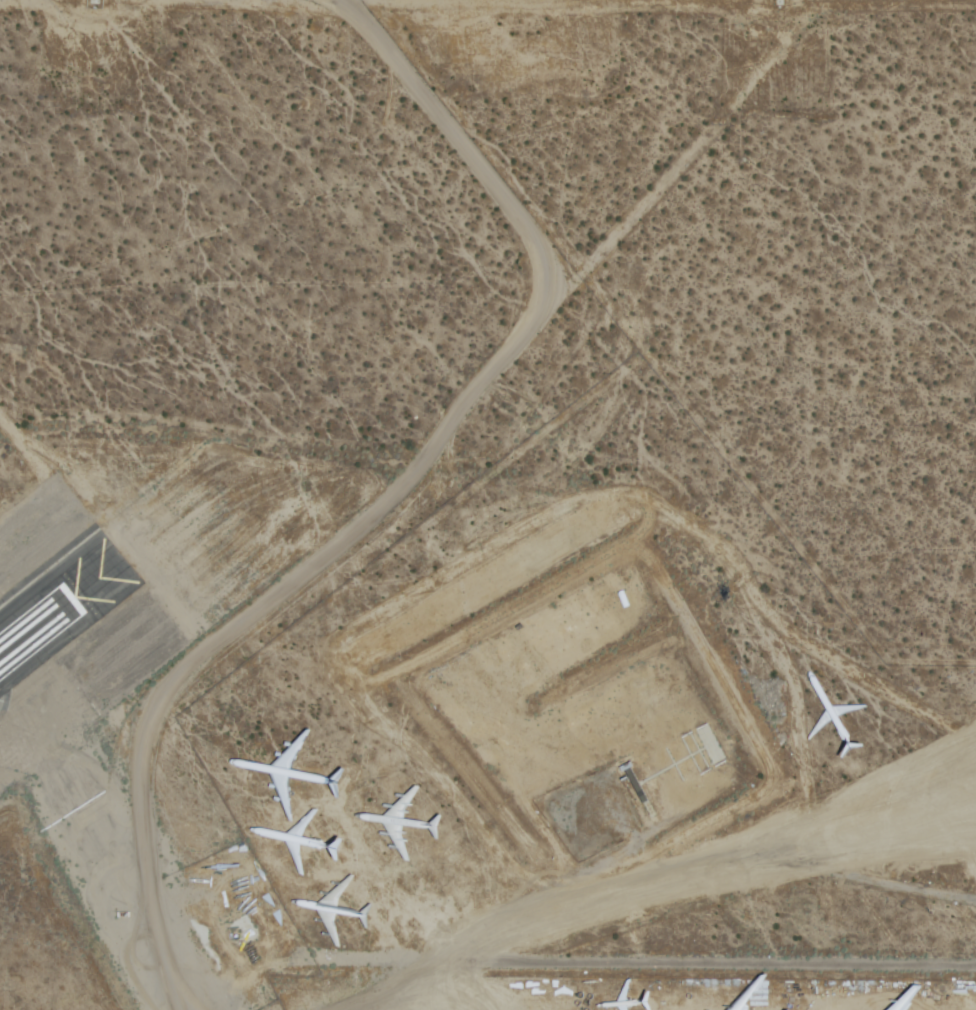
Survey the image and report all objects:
road: (423, 467)
airport: (488, 505)
airport runway: (37, 628)
building: (709, 745)
building: (631, 781)
road: (794, 864)
airport apron: (165, 871)
airport taxiway: (134, 885)
road: (653, 966)
airport apron: (664, 995)
road: (203, 1006)

